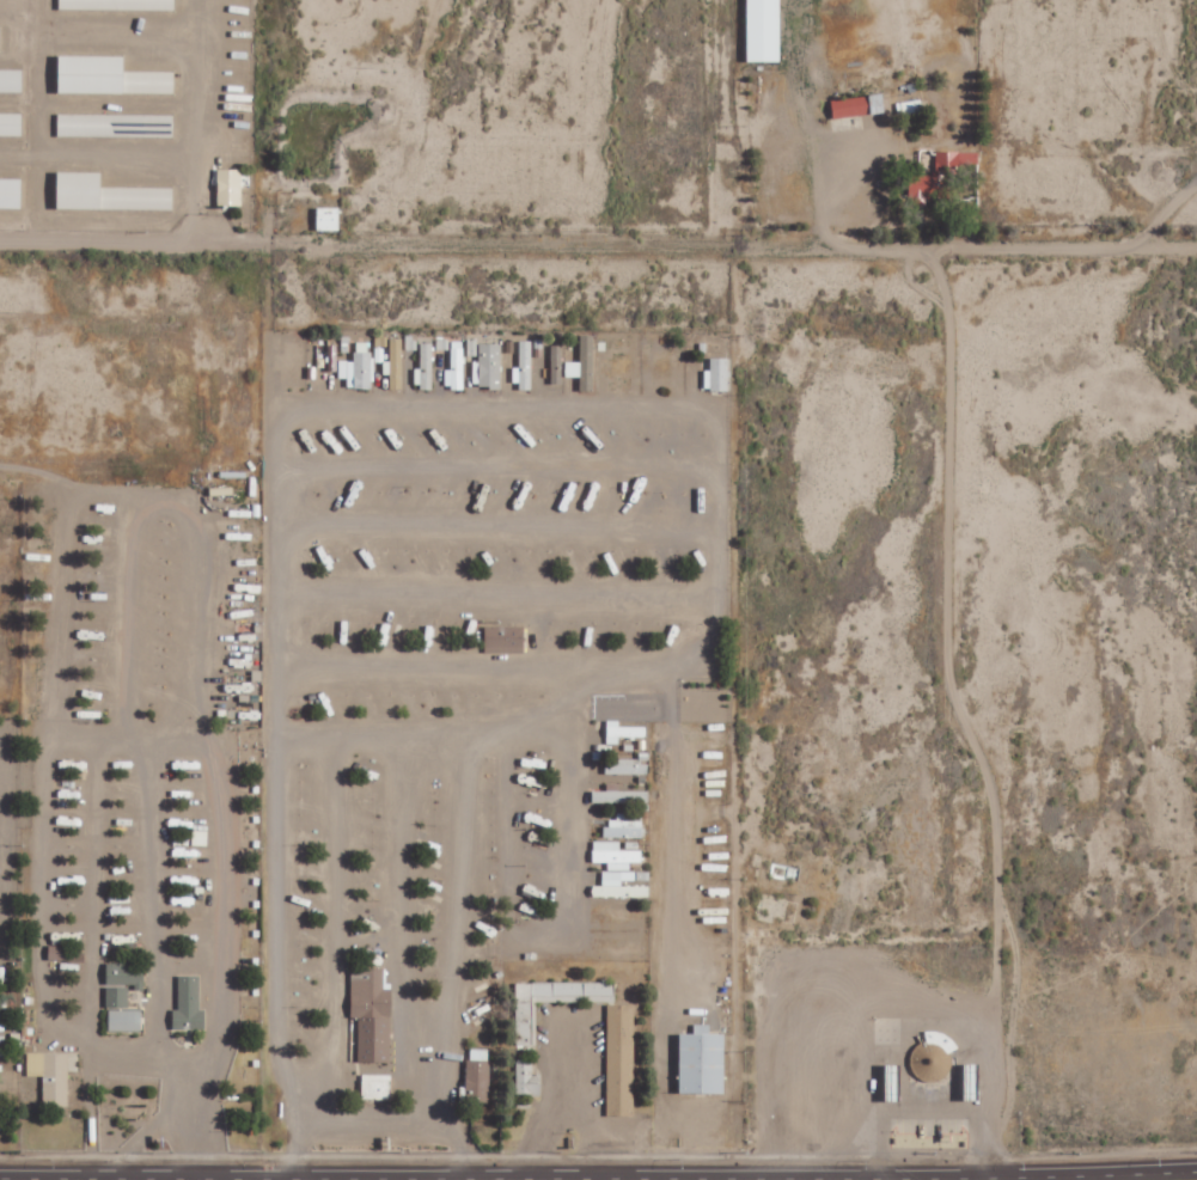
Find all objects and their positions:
building: (117, 5)
building: (764, 30)
building: (0, 38)
building: (111, 77)
building: (12, 80)
building: (861, 106)
building: (11, 124)
building: (100, 126)
building: (940, 177)
building: (230, 188)
building: (12, 192)
building: (110, 194)
building: (329, 219)
road: (598, 243)
building: (410, 342)
building: (442, 344)
building: (472, 347)
building: (378, 355)
building: (555, 360)
building: (585, 363)
building: (396, 365)
building: (490, 366)
building: (524, 366)
building: (360, 367)
building: (425, 367)
building: (456, 367)
building: (717, 375)
road: (124, 490)
road: (128, 616)
building: (505, 640)
building: (623, 732)
road: (83, 741)
building: (627, 765)
building: (619, 795)
building: (623, 827)
building: (613, 855)
building: (619, 886)
road: (92, 894)
road: (154, 903)
building: (126, 974)
building: (189, 1004)
building: (123, 1011)
building: (371, 1014)
road: (908, 1016)
building: (525, 1023)
building: (933, 1057)
building: (619, 1059)
building: (703, 1063)
building: (51, 1076)
building: (478, 1076)
building: (527, 1078)
building: (377, 1086)
road: (193, 1124)

